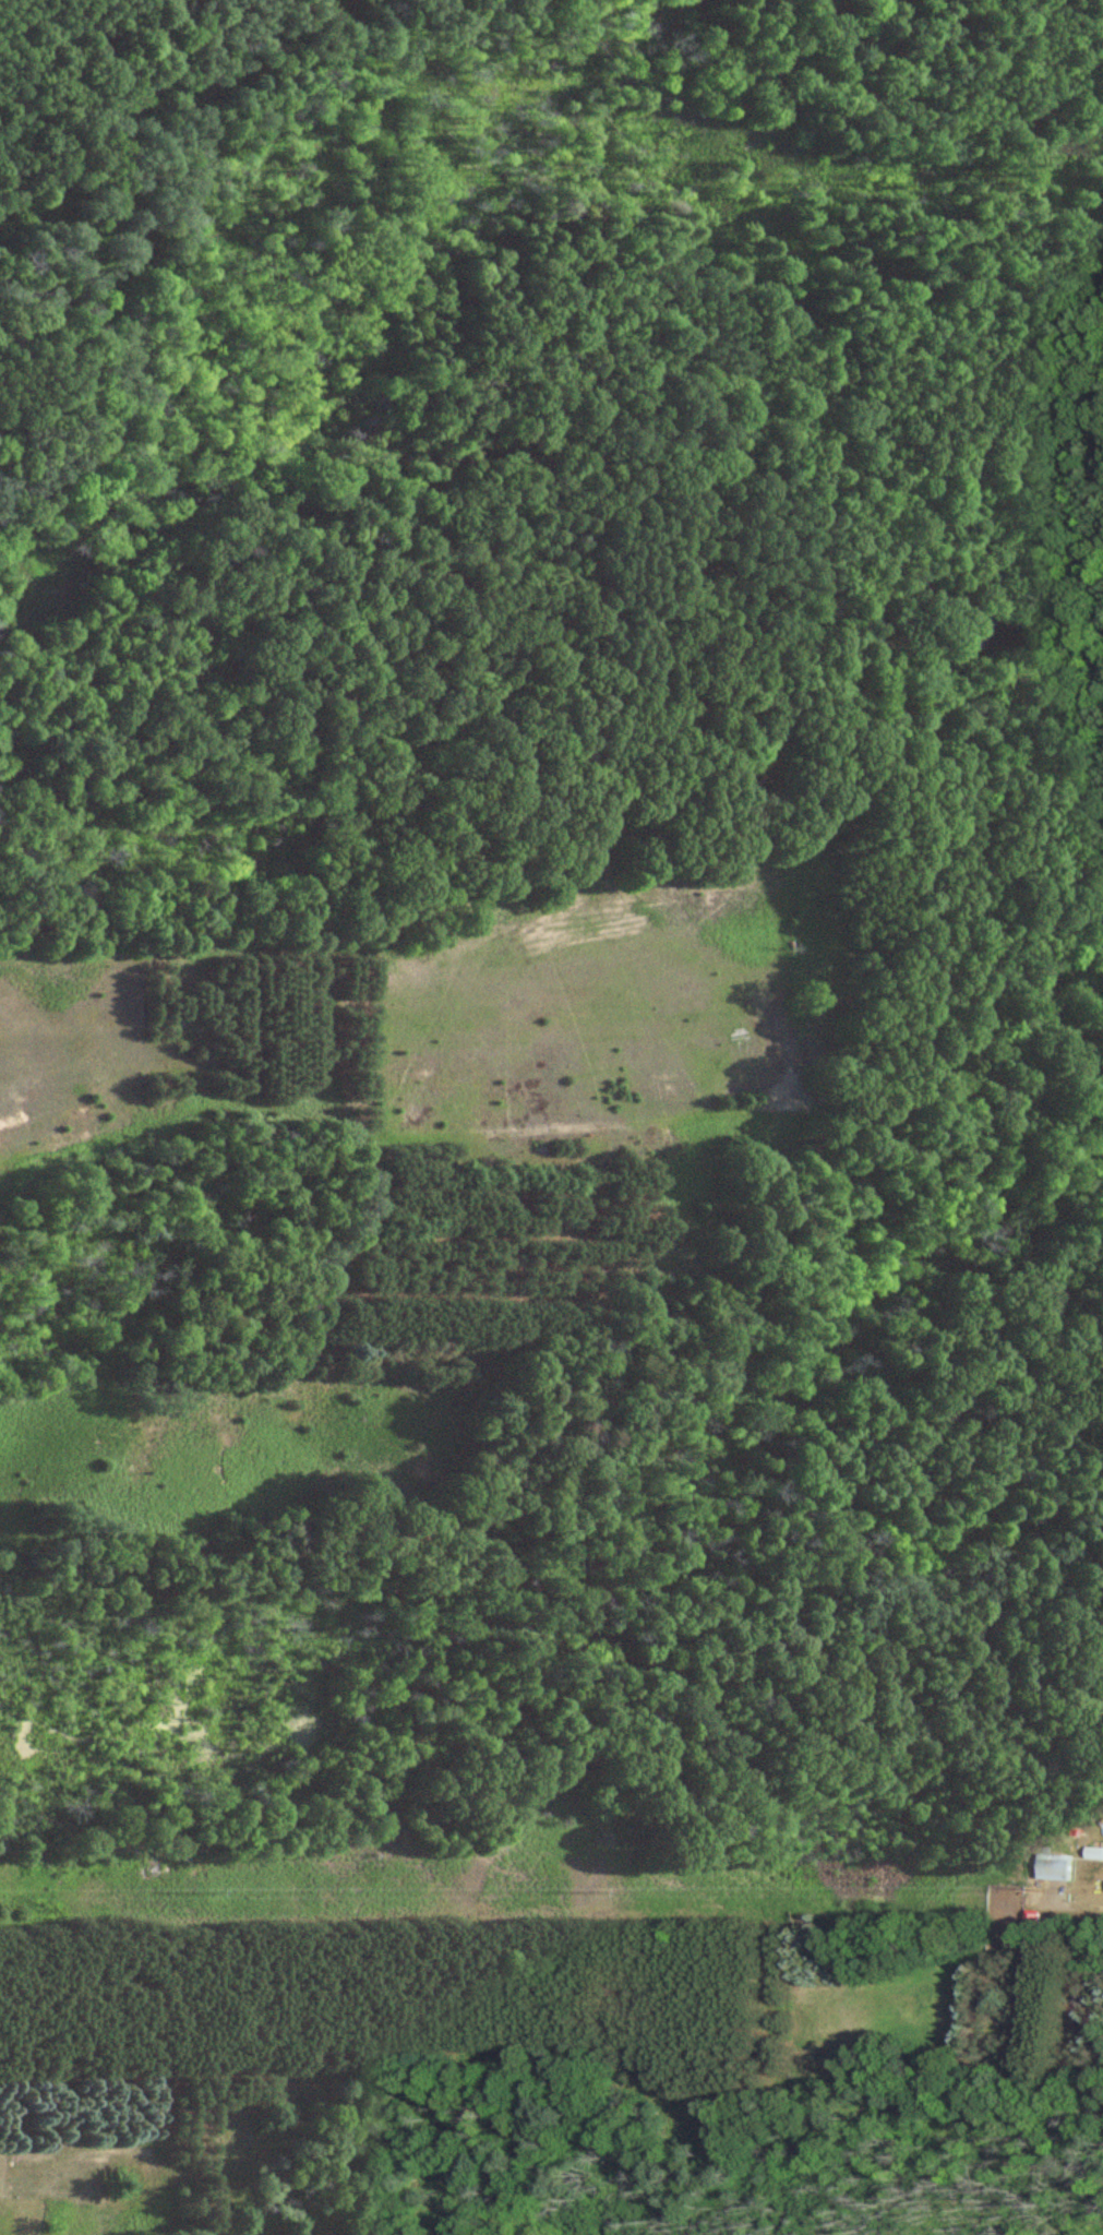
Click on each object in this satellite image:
building: (1093, 1853)
building: (1054, 1869)

